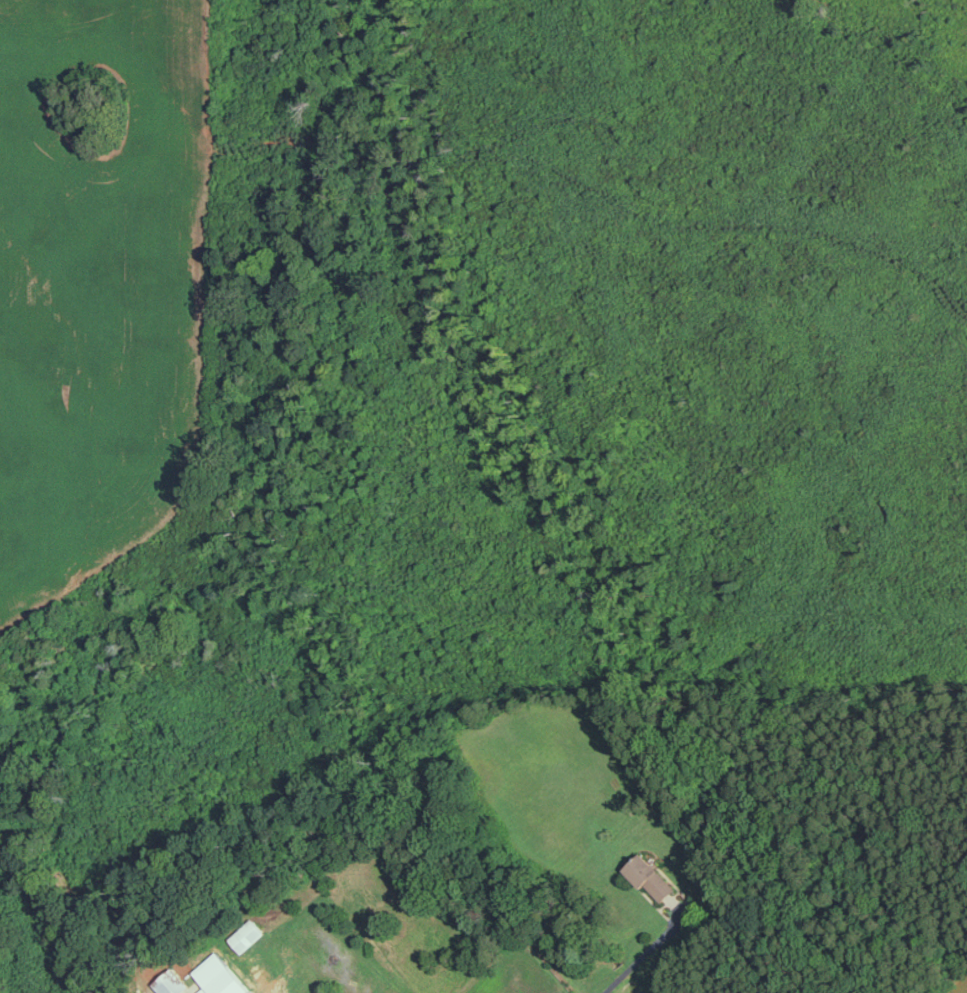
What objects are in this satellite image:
building: (653, 877)
building: (249, 935)
road: (644, 955)
building: (263, 974)
building: (323, 991)

